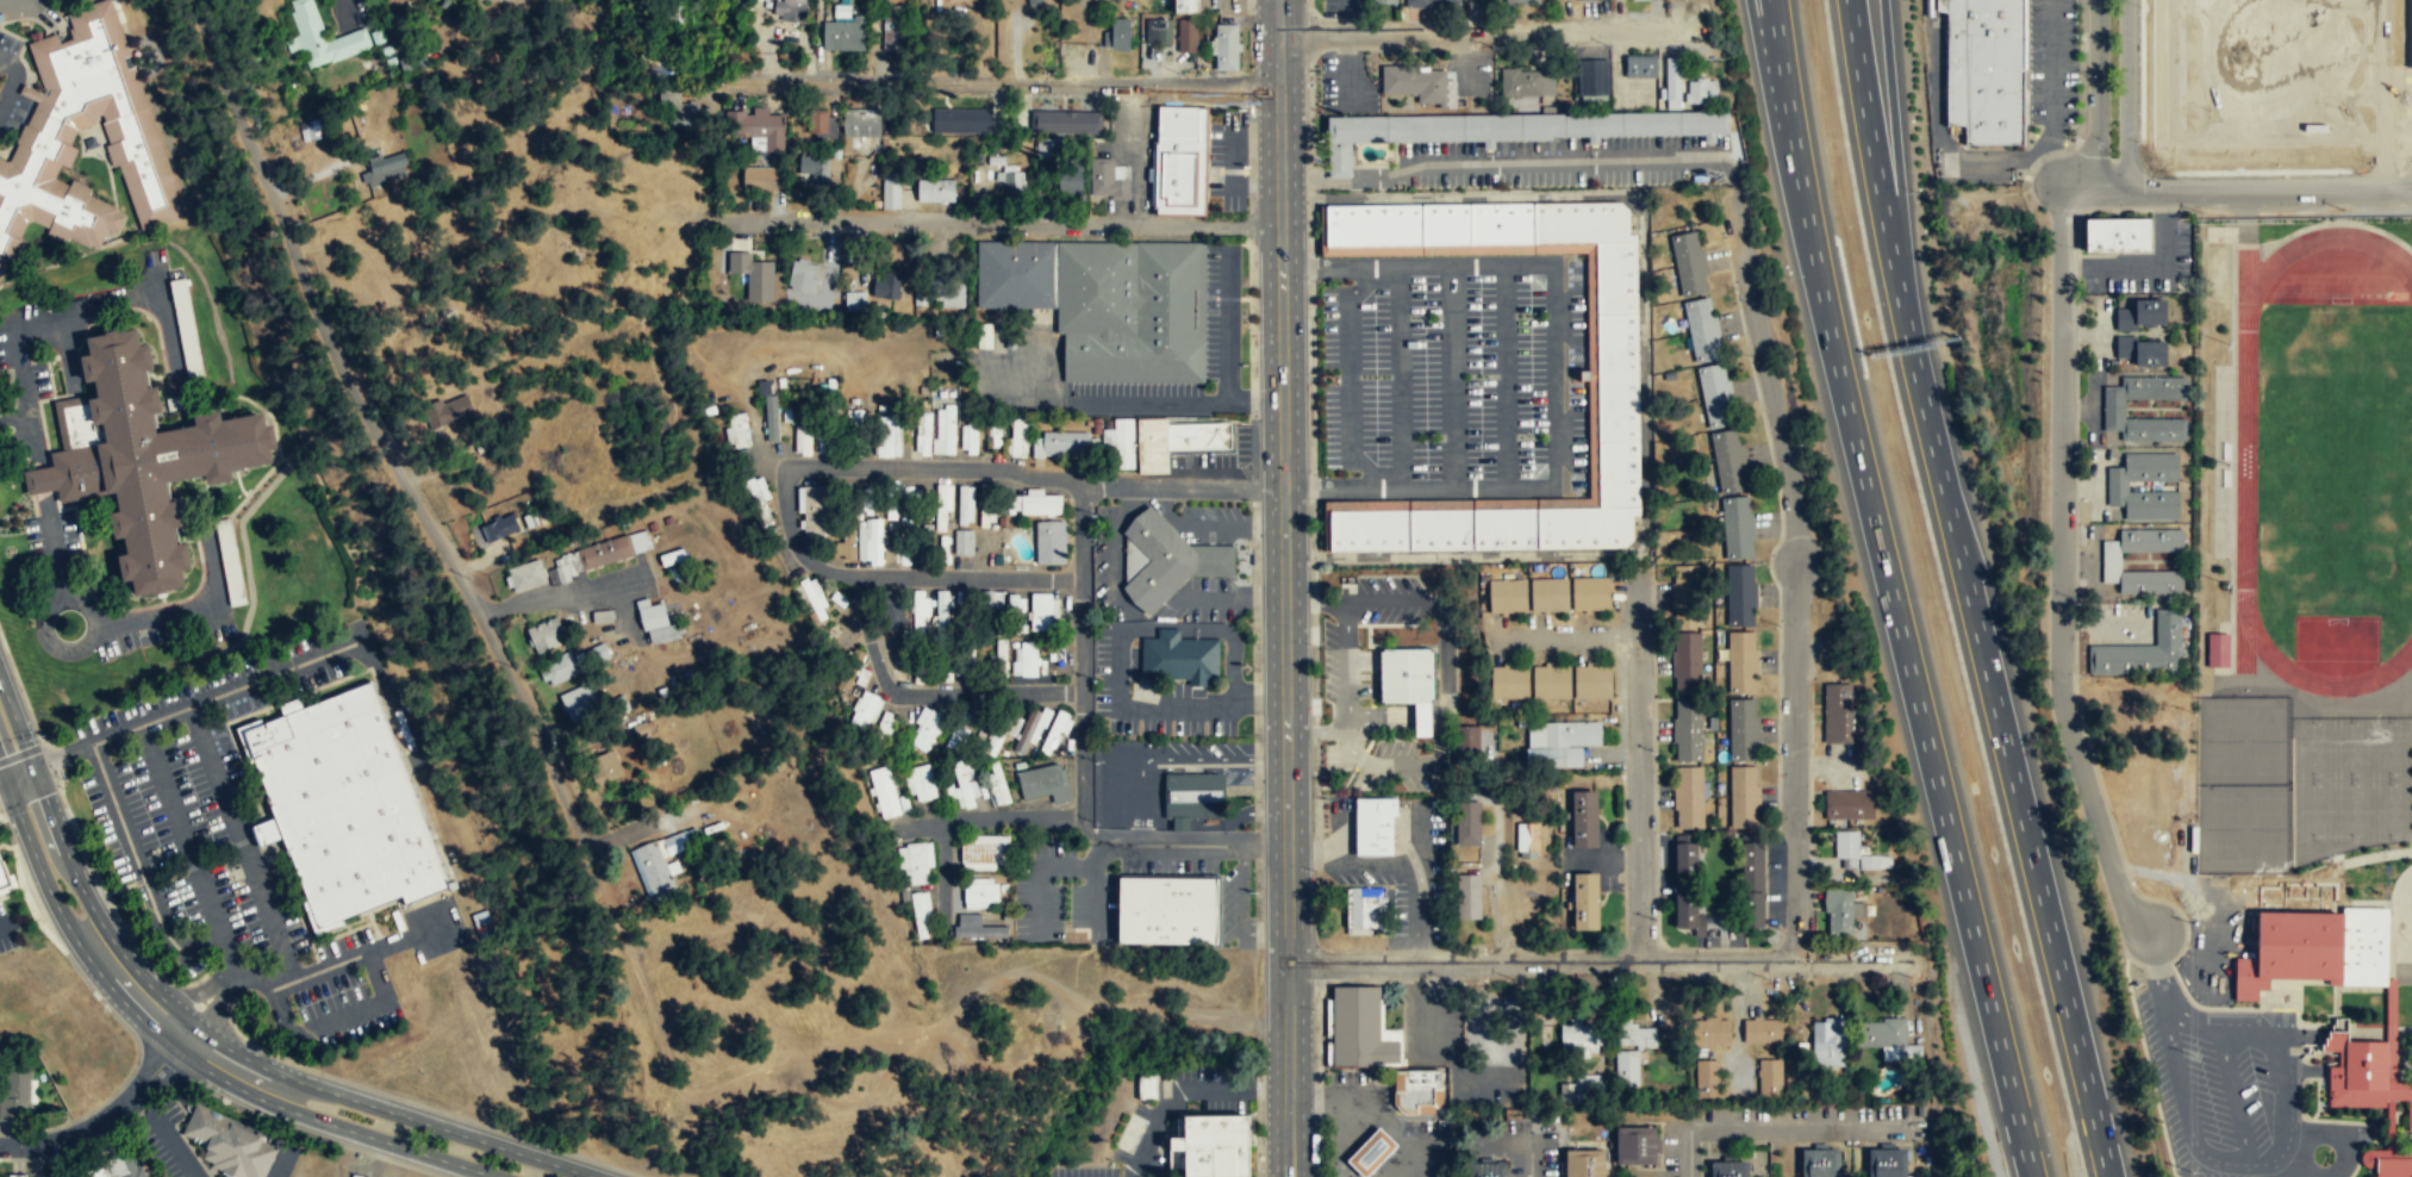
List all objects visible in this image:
building: (1033, 1)
building: (1386, 1)
building: (1517, 2)
building: (1433, 4)
building: (1186, 6)
building: (790, 11)
road: (1346, 15)
road: (1479, 29)
building: (891, 30)
building: (1159, 31)
building: (2411, 32)
building: (1117, 35)
building: (843, 36)
building: (1186, 36)
building: (320, 37)
road: (2280, 42)
building: (1227, 46)
building: (1641, 67)
parking lot: (1470, 69)
building: (1984, 69)
building: (1593, 79)
building: (1416, 82)
parking lot: (2273, 82)
building: (1527, 83)
building: (1672, 83)
road: (1011, 85)
parking lot: (1347, 85)
road: (2280, 87)
building: (1701, 92)
road: (2391, 94)
road: (2096, 95)
road: (2126, 95)
road: (1774, 96)
building: (679, 111)
building: (960, 120)
building: (1064, 122)
building: (819, 125)
building: (862, 125)
building: (760, 129)
building: (1508, 129)
road: (2401, 135)
road: (2211, 136)
building: (44, 143)
building: (1048, 149)
road: (1895, 154)
building: (1180, 158)
road: (1556, 161)
building: (382, 170)
building: (815, 170)
building: (1109, 179)
building: (1012, 180)
building: (755, 181)
building: (1070, 181)
road: (1731, 181)
road: (1338, 182)
road: (2269, 189)
road: (2094, 191)
building: (931, 192)
building: (891, 193)
building: (1583, 220)
building: (1447, 222)
building: (1504, 222)
road: (1001, 224)
building: (1376, 224)
building: (2118, 233)
road: (1415, 264)
building: (1688, 266)
building: (752, 275)
building: (1618, 276)
building: (802, 278)
road: (1363, 281)
building: (886, 287)
building: (728, 293)
building: (948, 297)
building: (855, 301)
building: (1108, 303)
parking lot: (1222, 311)
building: (2142, 315)
building: (1703, 331)
building: (187, 332)
building: (2140, 353)
road: (1553, 360)
road: (1452, 375)
road: (1504, 375)
road: (1350, 376)
road: (1400, 376)
building: (1619, 376)
building: (1715, 397)
parking lot: (1134, 398)
building: (2113, 410)
building: (450, 412)
building: (769, 416)
building: (854, 417)
road: (27, 425)
road: (373, 431)
building: (738, 431)
building: (945, 431)
building: (970, 435)
building: (922, 436)
building: (889, 438)
building: (1017, 438)
building: (803, 441)
building: (1178, 441)
building: (1060, 446)
building: (1118, 446)
track: (2245, 450)
building: (141, 457)
park: (2333, 459)
building: (1728, 462)
road: (860, 469)
road: (1369, 469)
building: (1620, 474)
road: (1182, 485)
road: (1428, 487)
building: (2117, 487)
building: (756, 488)
building: (1034, 505)
building: (965, 506)
building: (942, 509)
building: (812, 512)
building: (986, 515)
building: (513, 525)
building: (1588, 527)
building: (1508, 528)
building: (1444, 529)
building: (1738, 529)
building: (904, 530)
building: (1371, 530)
building: (1051, 542)
building: (872, 543)
building: (964, 543)
building: (843, 547)
building: (600, 555)
building: (903, 558)
building: (672, 559)
building: (1170, 559)
building: (2111, 562)
road: (2058, 569)
building: (526, 577)
road: (972, 577)
road: (1796, 580)
road: (1282, 587)
building: (1685, 588)
road: (1888, 590)
road: (1967, 590)
road: (559, 594)
building: (1589, 594)
building: (1547, 596)
building: (1740, 596)
building: (1507, 598)
parking lot: (1382, 599)
building: (815, 600)
building: (992, 600)
building: (943, 609)
road: (629, 610)
building: (918, 612)
building: (1042, 612)
building: (1015, 614)
building: (600, 622)
building: (657, 624)
building: (546, 636)
road: (1571, 640)
building: (2143, 650)
building: (2217, 650)
road: (1083, 653)
building: (599, 656)
building: (1180, 656)
building: (1026, 661)
building: (1741, 662)
building: (1687, 665)
building: (559, 670)
building: (1409, 673)
road: (272, 675)
building: (1510, 684)
building: (1551, 684)
building: (1591, 684)
road: (925, 695)
building: (578, 706)
building: (865, 711)
building: (1840, 715)
building: (925, 729)
building: (1743, 729)
building: (1028, 731)
building: (1688, 731)
building: (960, 733)
road: (110, 737)
building: (996, 739)
park: (2244, 740)
building: (1467, 743)
building: (1564, 745)
road: (1638, 773)
road: (17, 779)
building: (1045, 784)
park: (2349, 784)
building: (921, 785)
building: (964, 785)
building: (996, 785)
building: (1195, 793)
building: (883, 795)
building: (1744, 796)
building: (1689, 797)
building: (342, 807)
building: (1852, 807)
building: (1583, 820)
building: (1179, 823)
building: (1376, 824)
building: (1467, 824)
road: (180, 828)
park: (2244, 828)
road: (1096, 833)
building: (1527, 841)
road: (1165, 843)
road: (238, 845)
building: (678, 845)
road: (1252, 845)
building: (985, 852)
building: (1853, 852)
building: (1687, 858)
road: (141, 861)
road: (2348, 861)
building: (916, 862)
road: (1497, 872)
building: (654, 874)
building: (2, 882)
building: (1750, 884)
road: (2336, 885)
road: (2405, 893)
building: (980, 895)
building: (1467, 897)
building: (1584, 902)
road: (2345, 905)
building: (1366, 907)
building: (1168, 909)
building: (1688, 911)
building: (918, 914)
building: (1839, 914)
road: (5, 922)
building: (976, 929)
road: (2392, 942)
building: (2313, 949)
road: (351, 955)
road: (1598, 960)
road: (2158, 969)
road: (232, 972)
road: (242, 974)
road: (2275, 992)
road: (2335, 1003)
road: (2194, 1017)
road: (334, 1019)
building: (1360, 1026)
building: (1712, 1032)
building: (1762, 1032)
road: (204, 1033)
building: (1882, 1034)
building: (1577, 1036)
building: (1637, 1038)
building: (1830, 1039)
road: (862, 1040)
road: (177, 1048)
road: (2289, 1053)
building: (1627, 1065)
road: (1016, 1071)
building: (1769, 1077)
building: (1707, 1079)
building: (1420, 1089)
parking lot: (2231, 1089)
road: (2233, 1096)
building: (18, 1097)
road: (858, 1100)
road: (2184, 1103)
road: (111, 1111)
road: (1348, 1121)
road: (1783, 1125)
road: (180, 1133)
parking lot: (164, 1140)
building: (231, 1142)
road: (287, 1145)
building: (1633, 1145)
building: (1213, 1146)
road: (173, 1147)
building: (1372, 1152)
gas station: (1372, 1152)
road: (2276, 1157)
building: (2387, 1162)
building: (1583, 1163)
building: (1819, 1163)
building: (1886, 1163)
building: (1489, 1169)
building: (1728, 1169)
building: (127, 1171)
road: (1690, 1172)
building: (19, 1176)
building: (95, 1176)

